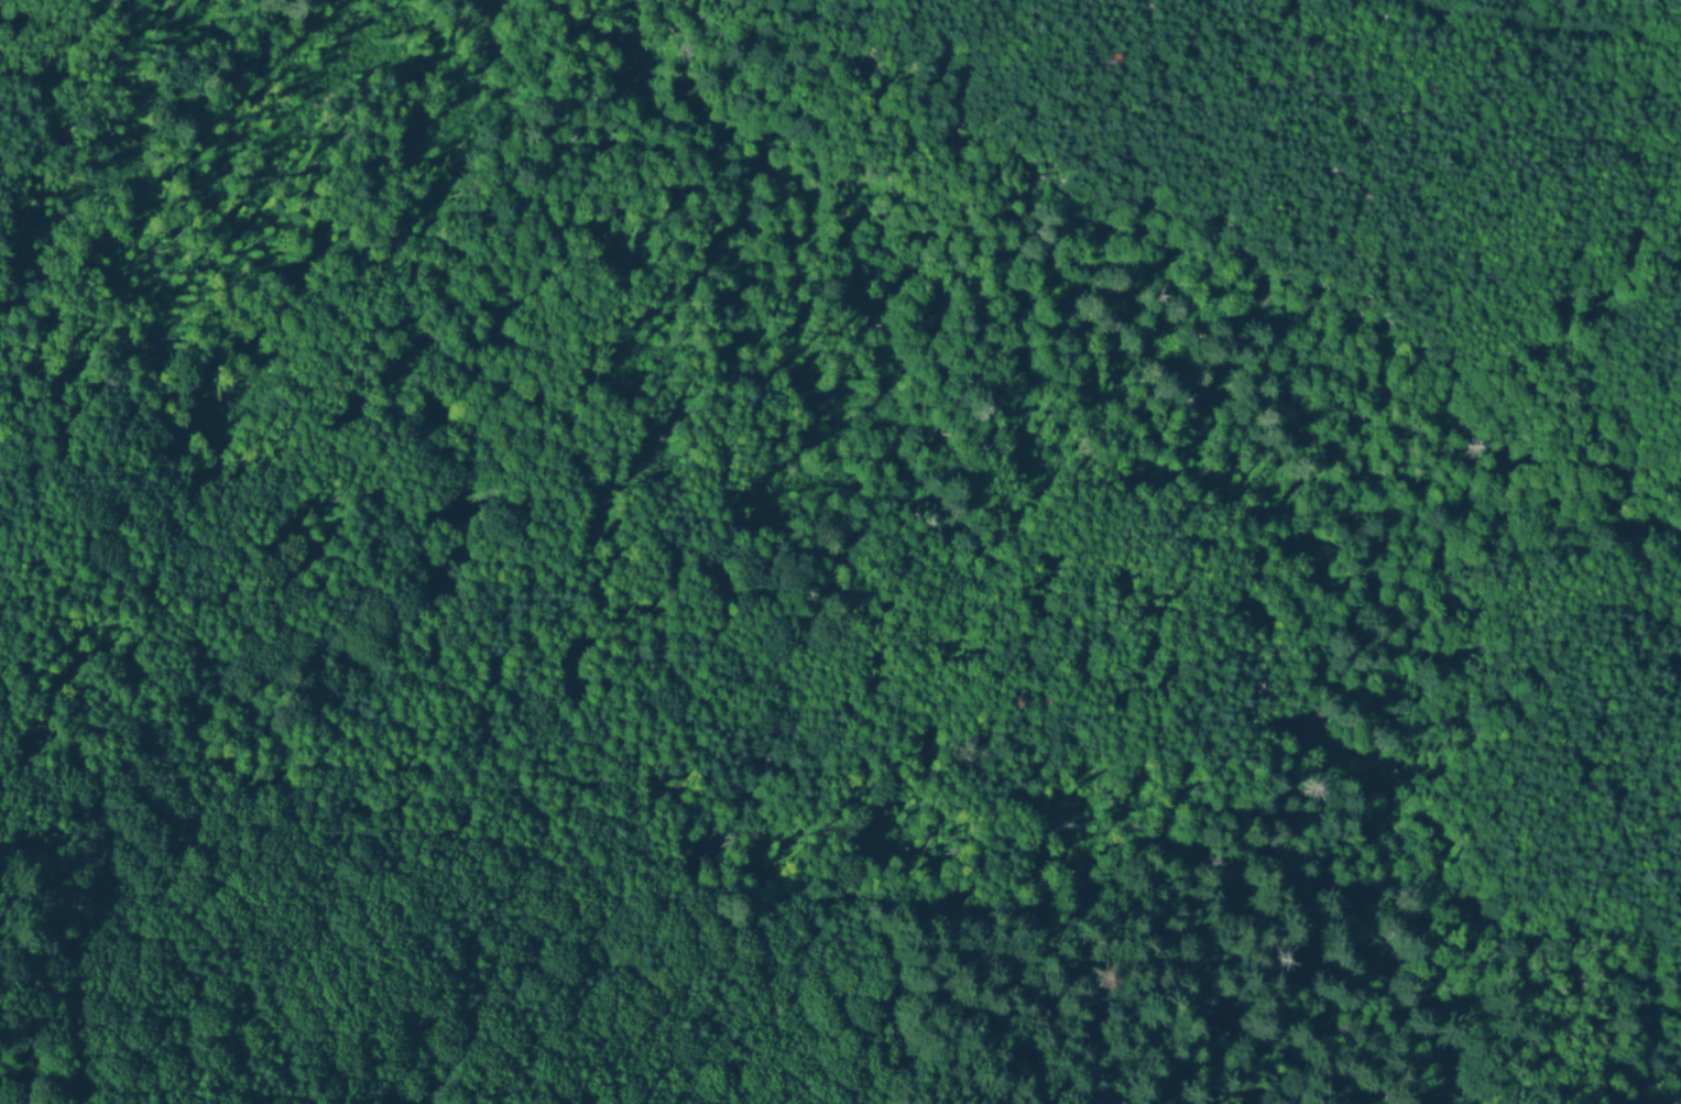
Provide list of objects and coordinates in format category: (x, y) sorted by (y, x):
road: (1540, 23)

